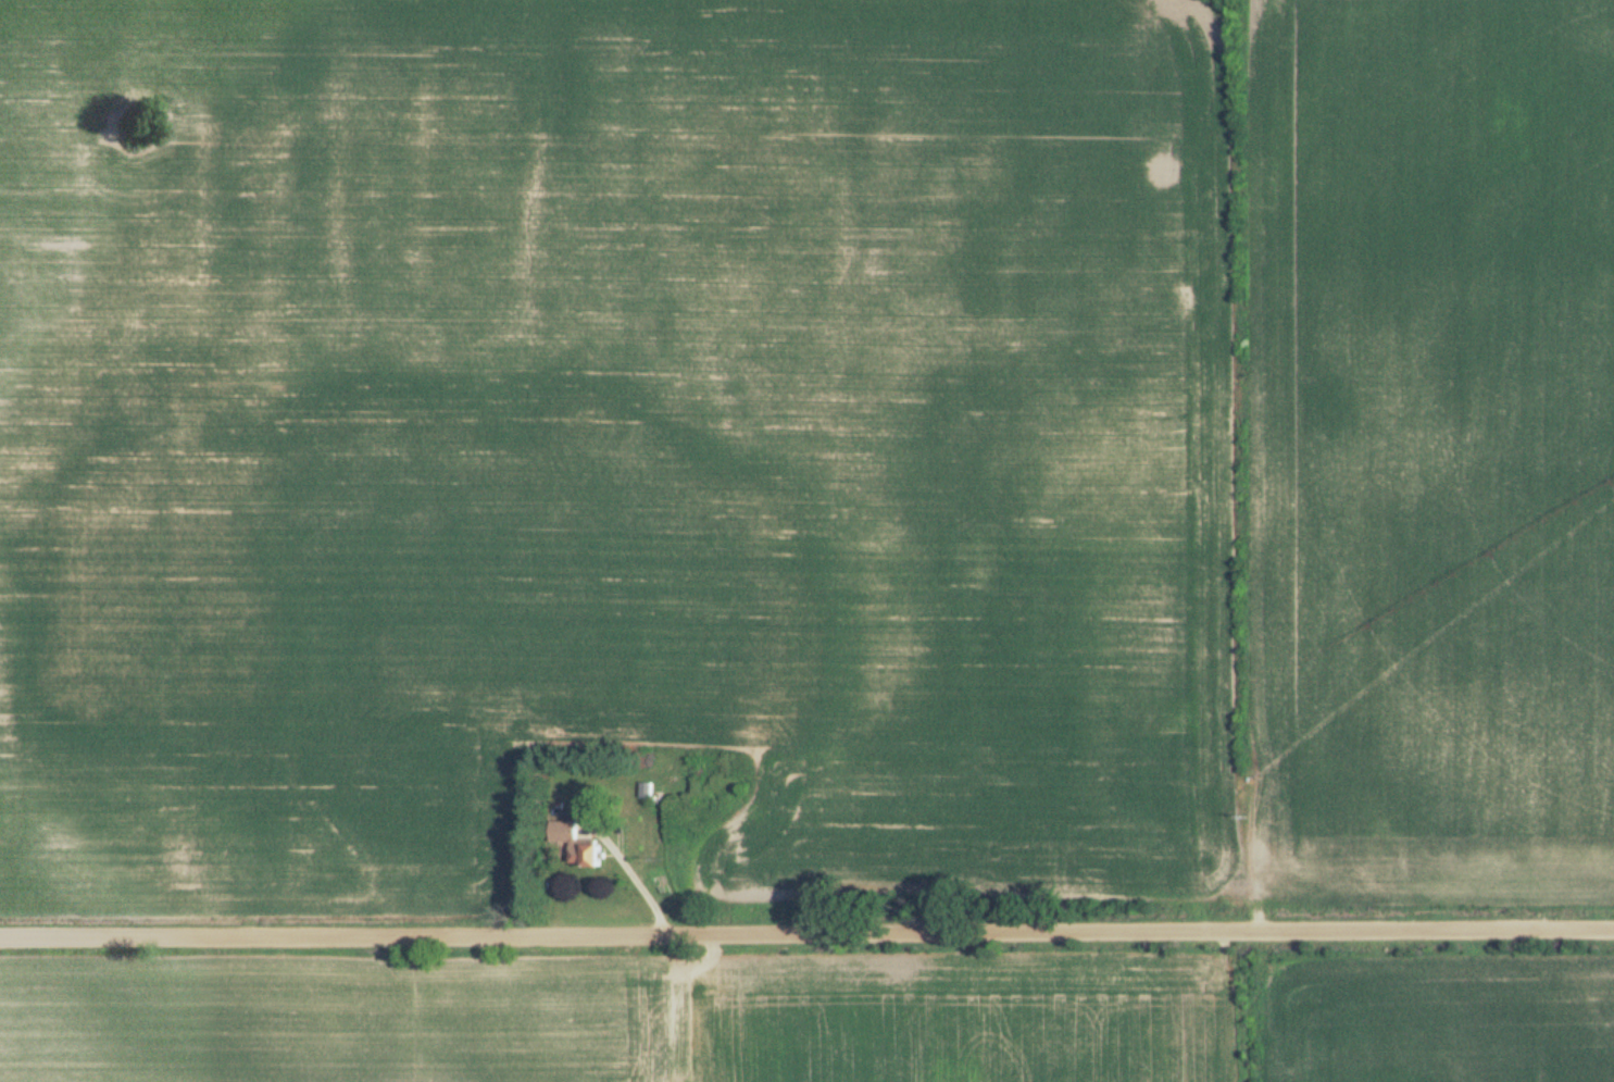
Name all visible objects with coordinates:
building: (574, 847)
road: (627, 873)
road: (806, 932)

